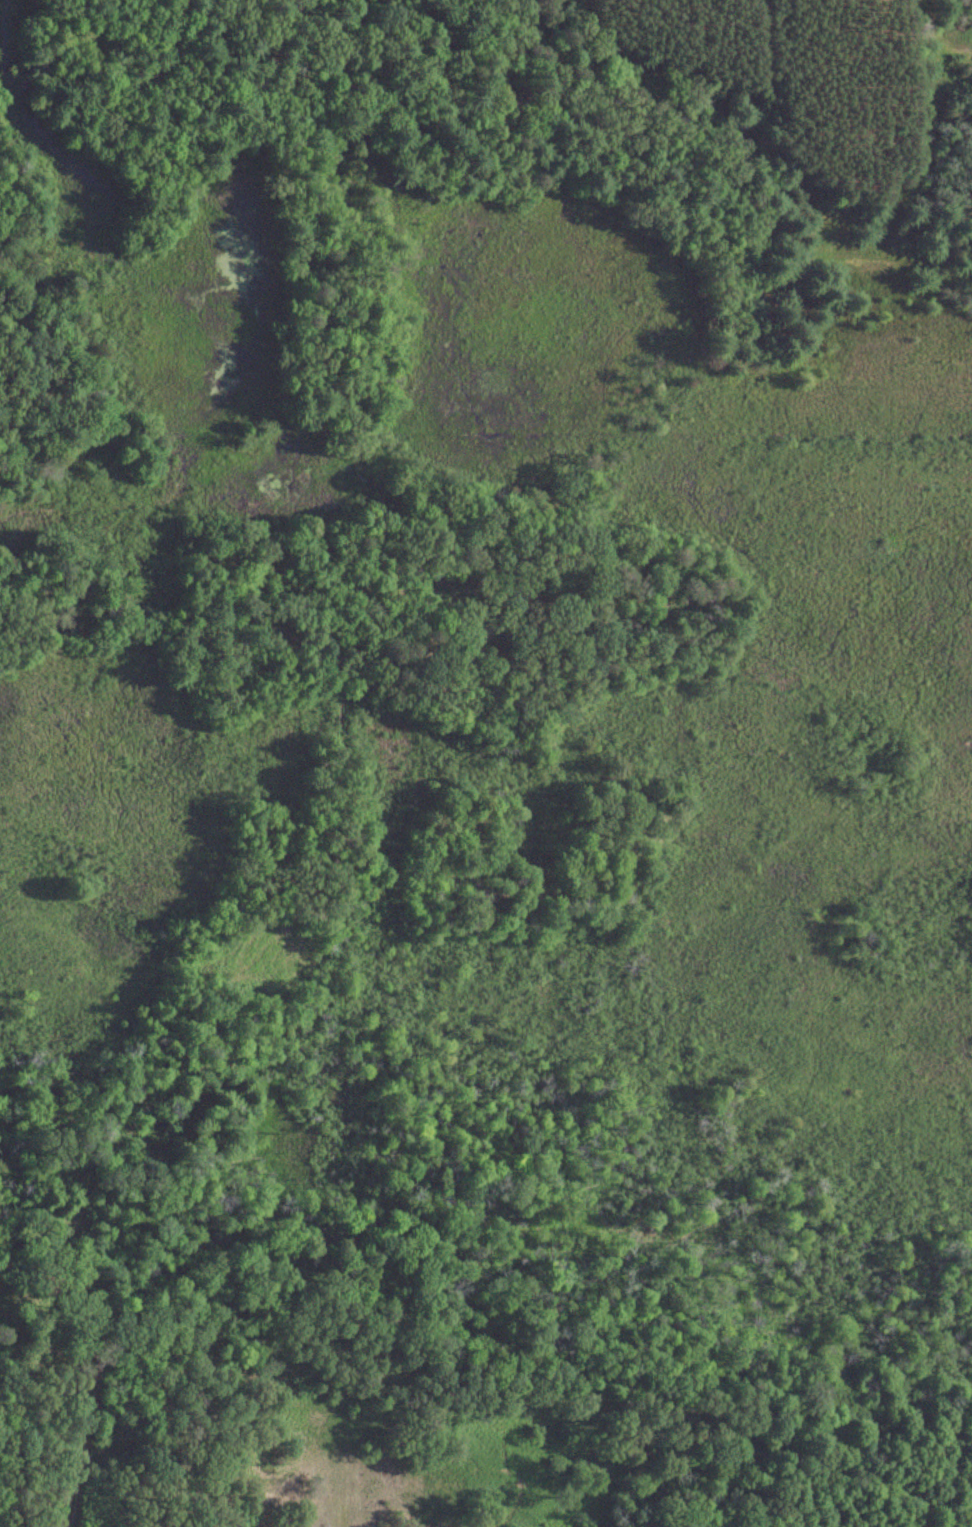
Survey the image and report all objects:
road: (349, 105)

